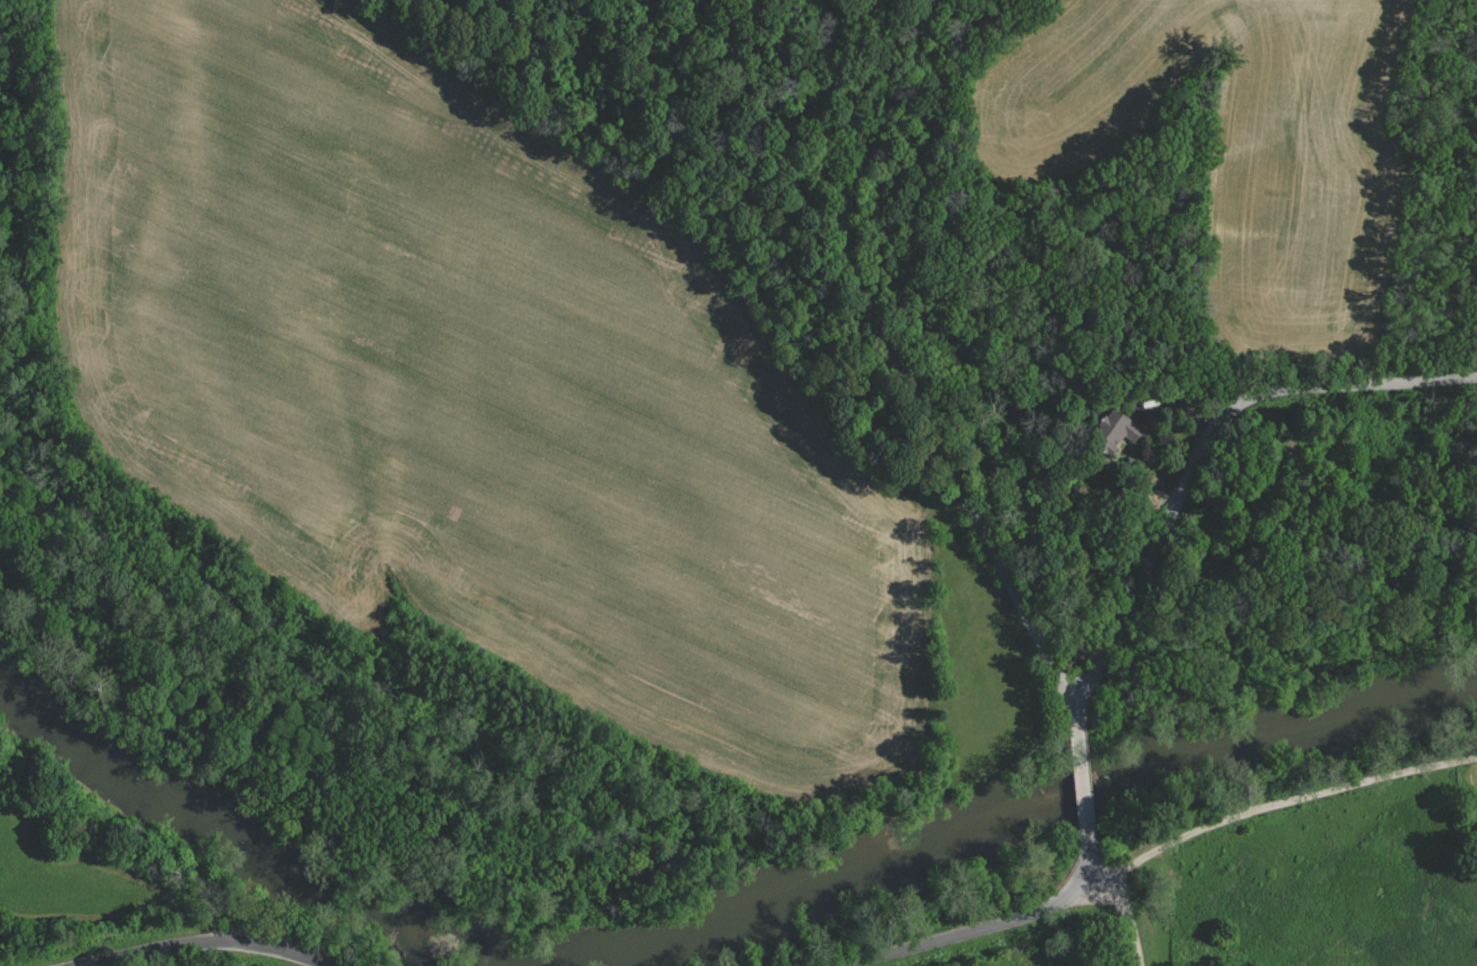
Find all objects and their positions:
road: (898, 364)
building: (1119, 427)
road: (1187, 478)
road: (1085, 797)
road: (1271, 805)
river: (718, 916)
road: (1127, 919)
road: (1004, 923)
road: (205, 942)
road: (87, 965)

